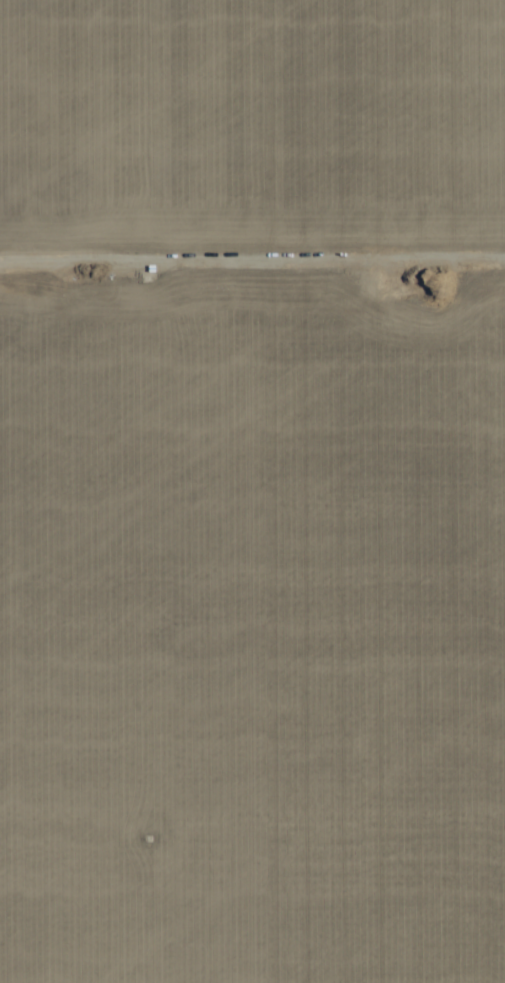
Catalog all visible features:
crop: (252, 491)

